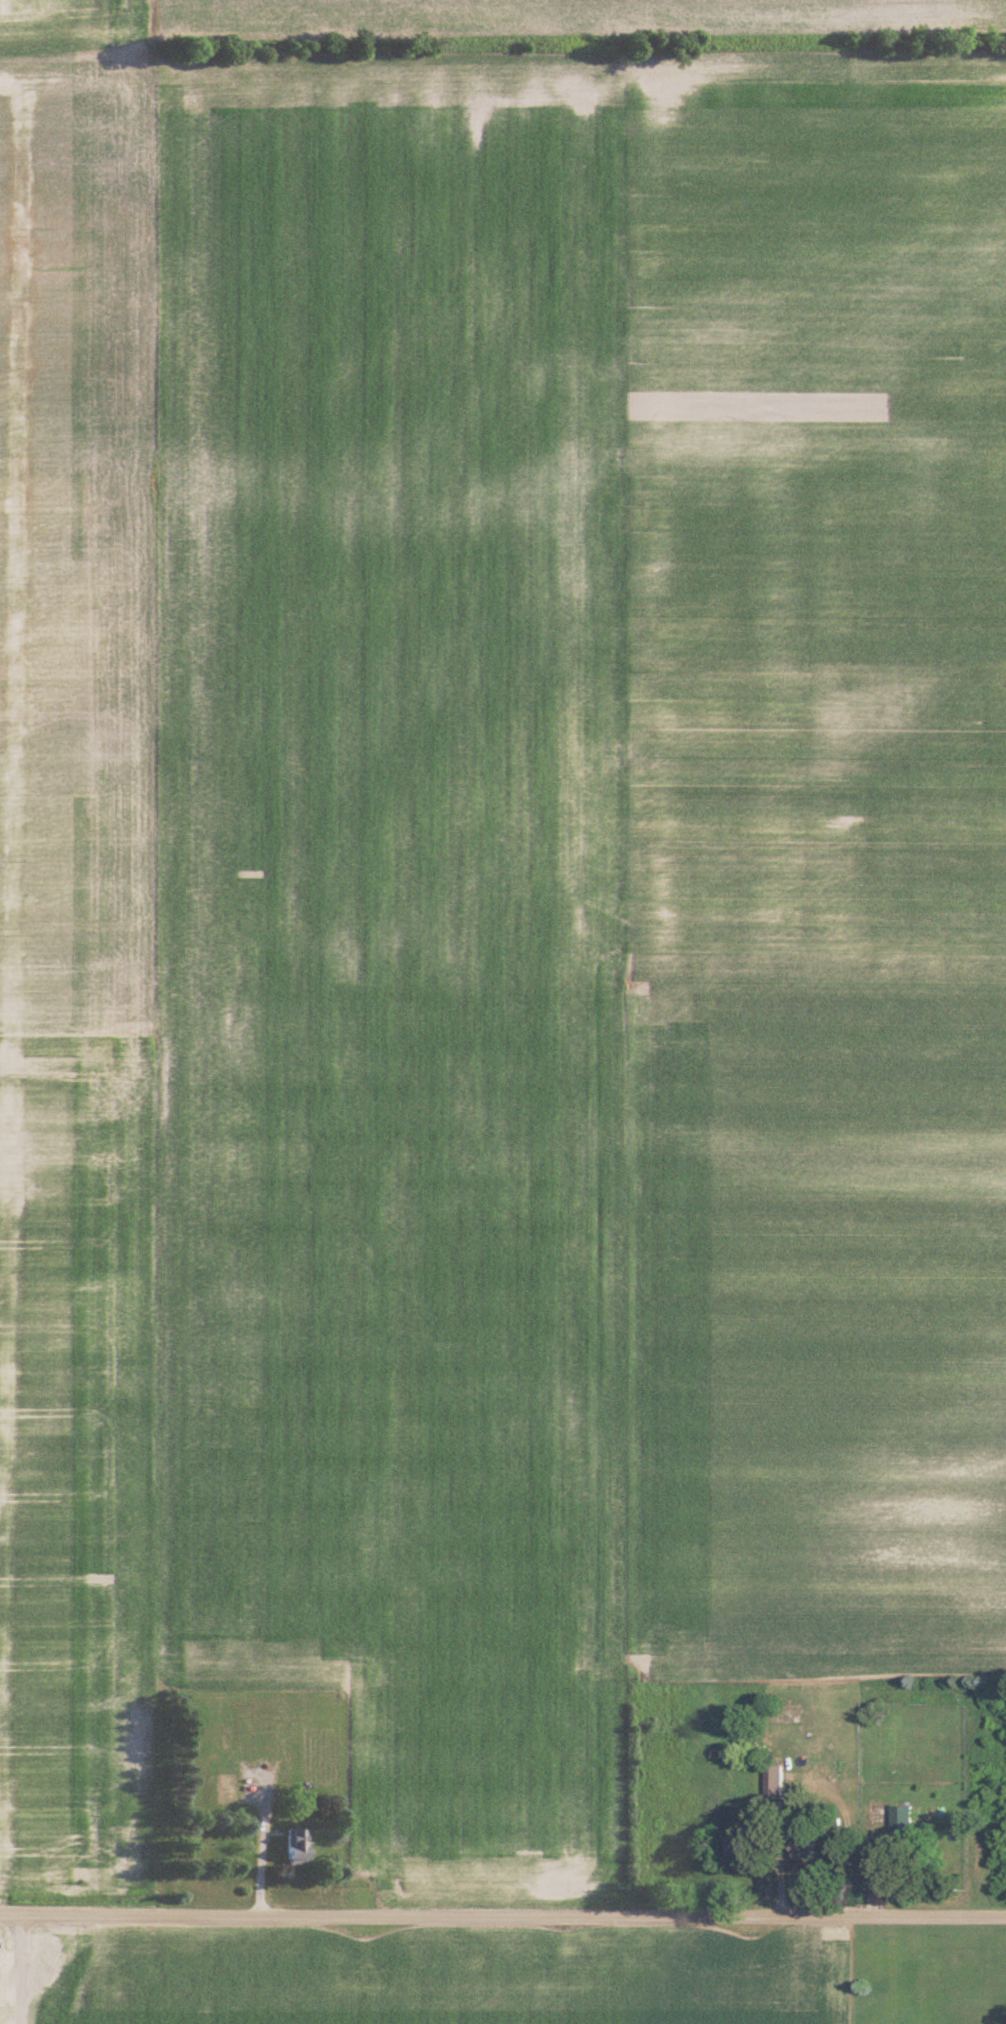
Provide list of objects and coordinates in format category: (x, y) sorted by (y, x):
building: (249, 1744)
building: (704, 1749)
building: (769, 1781)
building: (898, 1818)
building: (293, 1847)
road: (262, 1848)
building: (731, 1848)
building: (802, 1848)
road: (502, 1915)

